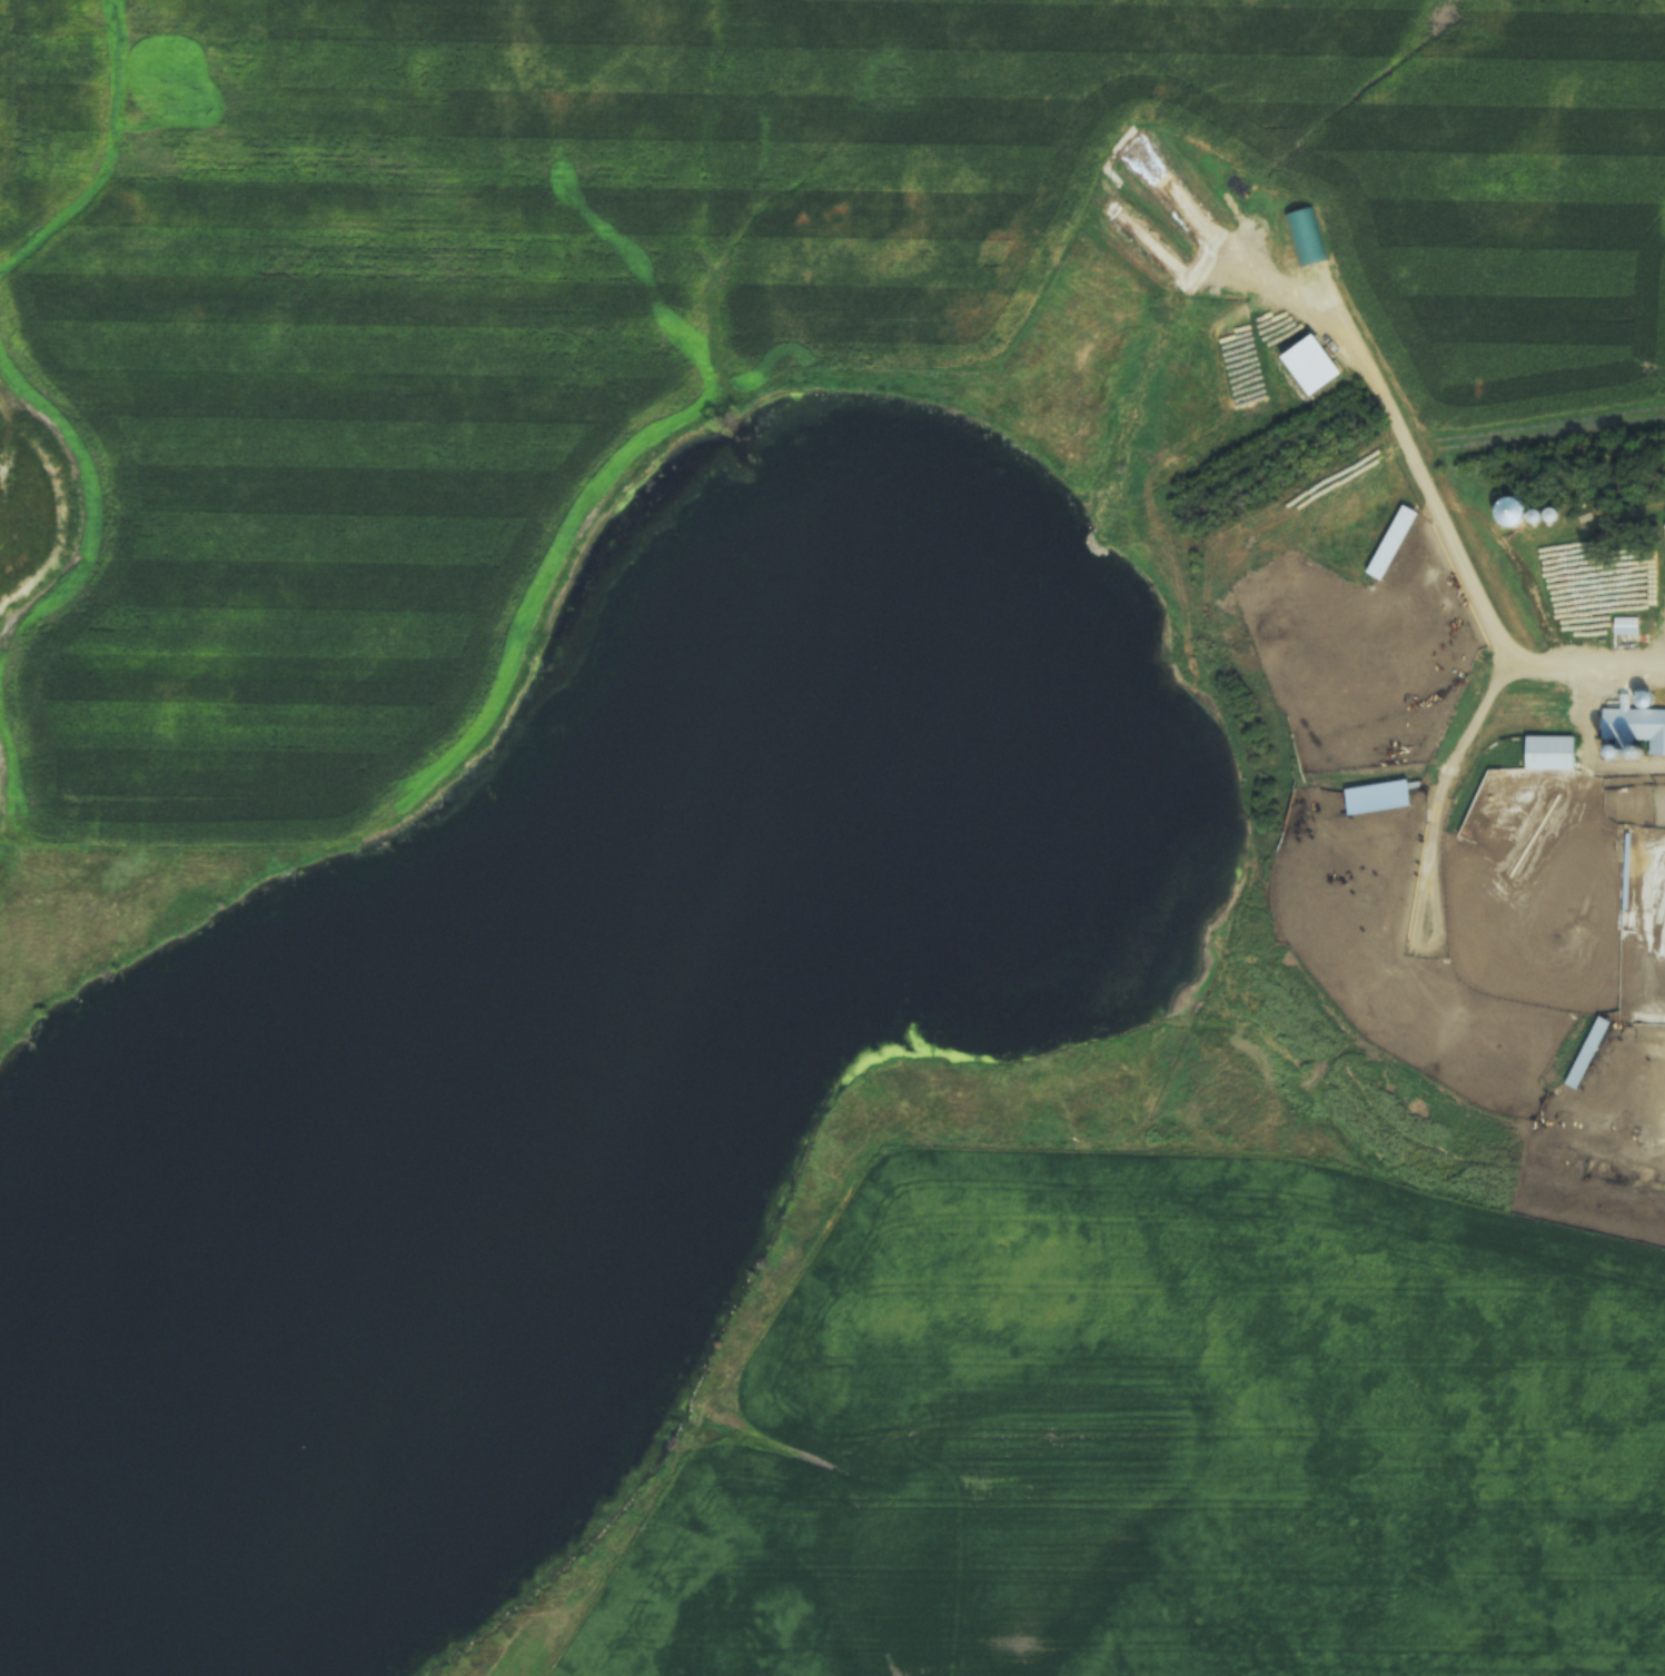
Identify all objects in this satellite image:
building: (1306, 238)
building: (1626, 627)
road: (1588, 667)
building: (1636, 726)
building: (1552, 754)
building: (1589, 1052)

